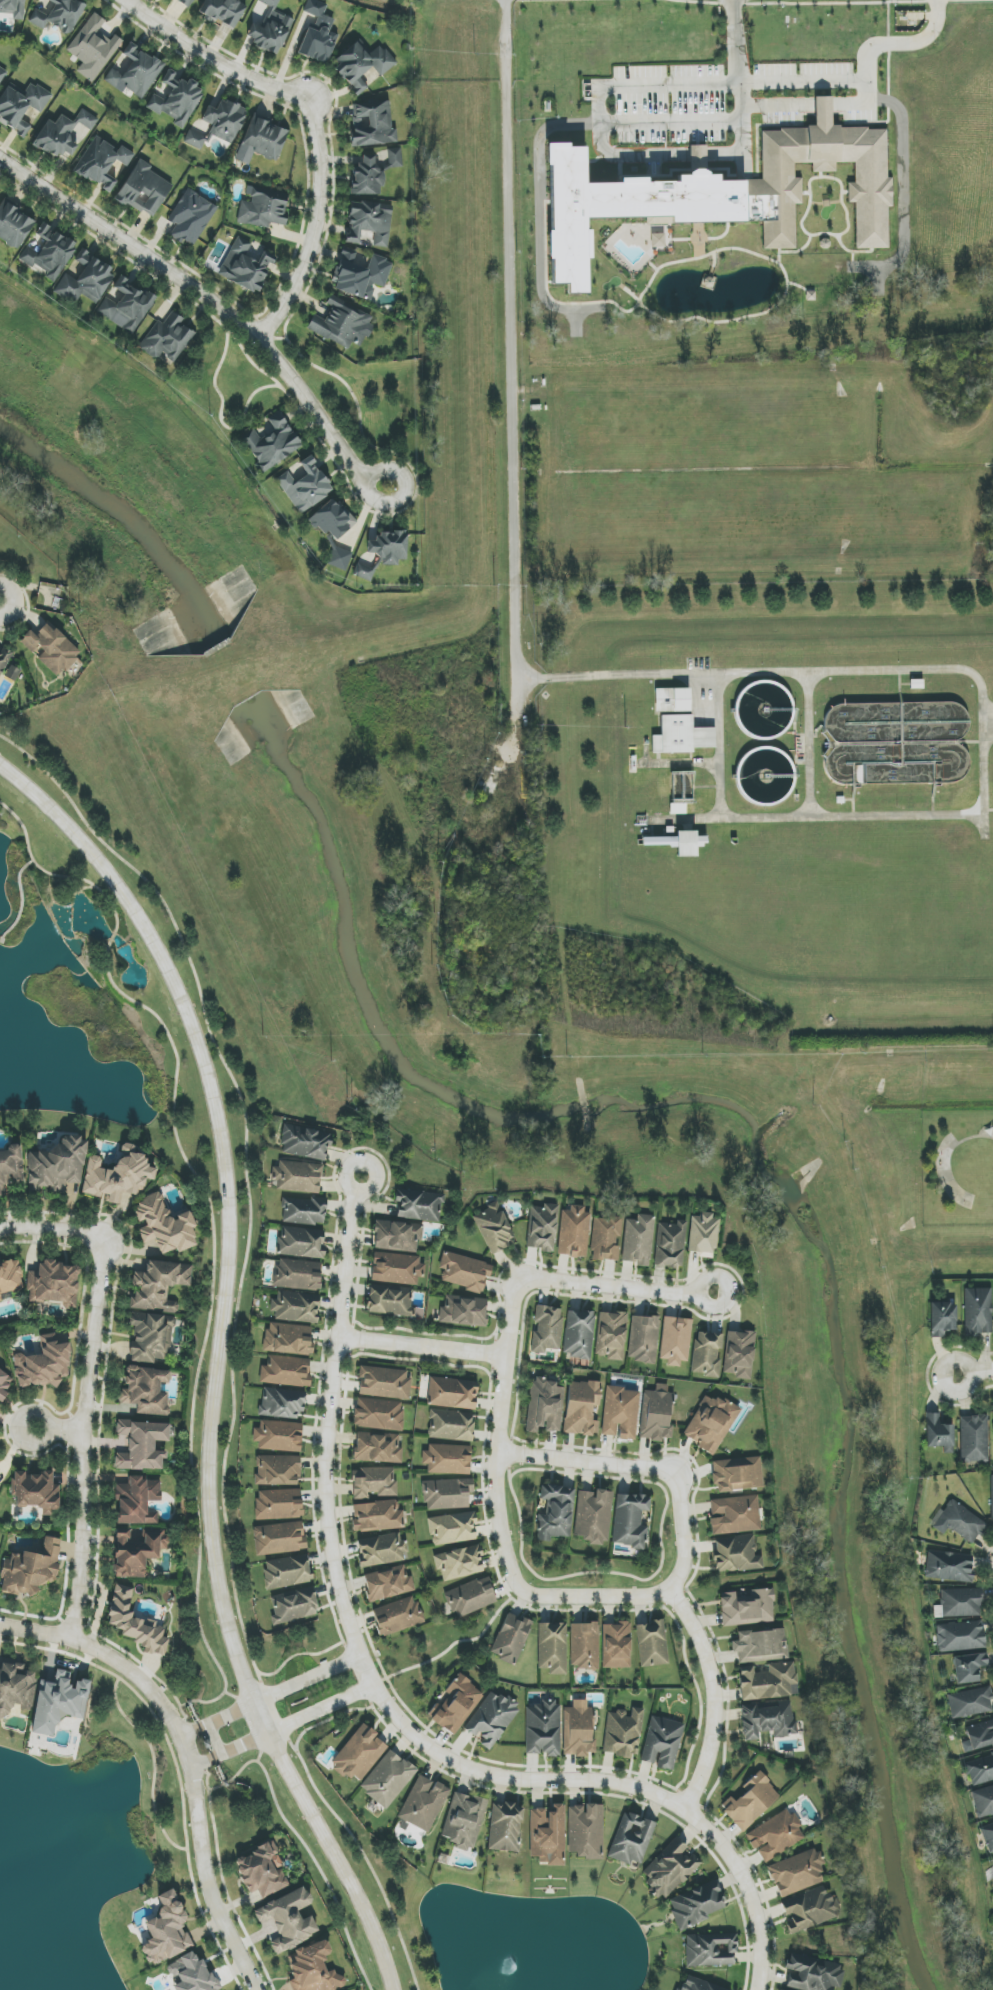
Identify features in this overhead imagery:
building: (187, 2)
building: (13, 8)
building: (223, 12)
building: (59, 15)
building: (271, 28)
building: (318, 34)
road: (907, 46)
building: (93, 47)
building: (363, 65)
building: (135, 73)
building: (2, 74)
road: (837, 84)
building: (176, 99)
road: (741, 99)
building: (21, 105)
road: (822, 110)
road: (600, 111)
building: (224, 119)
building: (372, 124)
road: (314, 125)
building: (195, 140)
building: (262, 141)
building: (101, 162)
building: (373, 171)
building: (718, 189)
building: (144, 190)
road: (904, 192)
building: (261, 208)
road: (540, 214)
building: (191, 217)
building: (369, 224)
building: (14, 225)
building: (49, 253)
building: (246, 266)
building: (360, 274)
building: (85, 279)
building: (126, 307)
road: (207, 308)
building: (341, 326)
building: (167, 339)
road: (513, 377)
building: (273, 443)
building: (332, 519)
building: (384, 552)
building: (340, 559)
building: (51, 649)
building: (3, 659)
road: (757, 672)
building: (12, 673)
building: (672, 700)
building: (681, 736)
road: (809, 745)
wastewater plant: (761, 785)
road: (843, 817)
road: (23, 830)
road: (18, 900)
building: (305, 1142)
road: (948, 1155)
building: (56, 1166)
building: (10, 1167)
building: (117, 1176)
building: (297, 1176)
road: (245, 1178)
road: (369, 1188)
building: (419, 1205)
building: (304, 1210)
road: (53, 1227)
building: (542, 1227)
building: (494, 1229)
building: (574, 1232)
building: (703, 1233)
building: (398, 1236)
building: (605, 1238)
building: (638, 1240)
building: (301, 1242)
road: (212, 1245)
building: (671, 1245)
building: (397, 1269)
building: (464, 1272)
building: (298, 1274)
building: (10, 1279)
building: (54, 1283)
building: (158, 1286)
road: (608, 1286)
road: (702, 1301)
building: (392, 1302)
building: (296, 1307)
building: (464, 1311)
building: (977, 1311)
building: (942, 1319)
building: (547, 1329)
building: (579, 1334)
building: (611, 1335)
building: (288, 1339)
building: (643, 1339)
building: (675, 1340)
road: (423, 1346)
building: (706, 1354)
building: (739, 1354)
road: (219, 1360)
building: (44, 1364)
building: (286, 1371)
road: (974, 1372)
building: (384, 1383)
building: (4, 1384)
building: (146, 1390)
building: (452, 1393)
building: (282, 1403)
building: (545, 1405)
building: (583, 1408)
building: (620, 1413)
building: (379, 1414)
building: (656, 1414)
building: (710, 1423)
building: (451, 1425)
road: (57, 1432)
building: (939, 1434)
building: (279, 1436)
road: (499, 1436)
road: (81, 1438)
building: (974, 1438)
building: (141, 1445)
building: (378, 1448)
building: (448, 1459)
road: (584, 1462)
road: (509, 1466)
building: (277, 1470)
building: (737, 1474)
building: (1, 1481)
building: (373, 1482)
building: (992, 1482)
building: (35, 1491)
building: (447, 1494)
building: (138, 1501)
building: (278, 1504)
building: (555, 1513)
building: (735, 1515)
building: (377, 1516)
building: (593, 1516)
building: (630, 1521)
building: (958, 1522)
building: (453, 1528)
road: (682, 1533)
building: (279, 1538)
building: (382, 1550)
building: (137, 1551)
building: (736, 1554)
building: (460, 1563)
road: (661, 1564)
building: (949, 1566)
building: (31, 1569)
building: (287, 1572)
building: (388, 1583)
building: (471, 1597)
road: (594, 1597)
building: (961, 1602)
building: (294, 1606)
building: (747, 1607)
building: (398, 1616)
building: (136, 1623)
building: (960, 1636)
building: (512, 1638)
road: (453, 1644)
building: (652, 1644)
building: (584, 1645)
building: (616, 1646)
building: (760, 1646)
building: (553, 1648)
building: (969, 1668)
road: (306, 1678)
building: (768, 1681)
building: (14, 1687)
road: (713, 1695)
building: (59, 1702)
building: (970, 1703)
building: (456, 1705)
road: (389, 1707)
road: (321, 1709)
road: (273, 1711)
road: (216, 1718)
building: (767, 1719)
building: (491, 1720)
road: (248, 1722)
building: (543, 1728)
building: (578, 1729)
building: (623, 1733)
building: (978, 1737)
building: (662, 1743)
road: (230, 1750)
building: (359, 1754)
road: (188, 1757)
building: (980, 1770)
building: (388, 1779)
building: (751, 1801)
building: (983, 1801)
building: (423, 1803)
building: (464, 1821)
building: (505, 1827)
building: (585, 1830)
building: (548, 1835)
building: (775, 1835)
building: (988, 1836)
building: (631, 1839)
road: (361, 1852)
road: (314, 1861)
building: (670, 1868)
building: (262, 1871)
building: (796, 1873)
building: (697, 1905)
building: (809, 1909)
building: (288, 1920)
building: (166, 1930)
building: (710, 1950)
fountain: (511, 1966)
building: (313, 1969)
building: (813, 1973)
building: (191, 1974)
building: (698, 1985)

